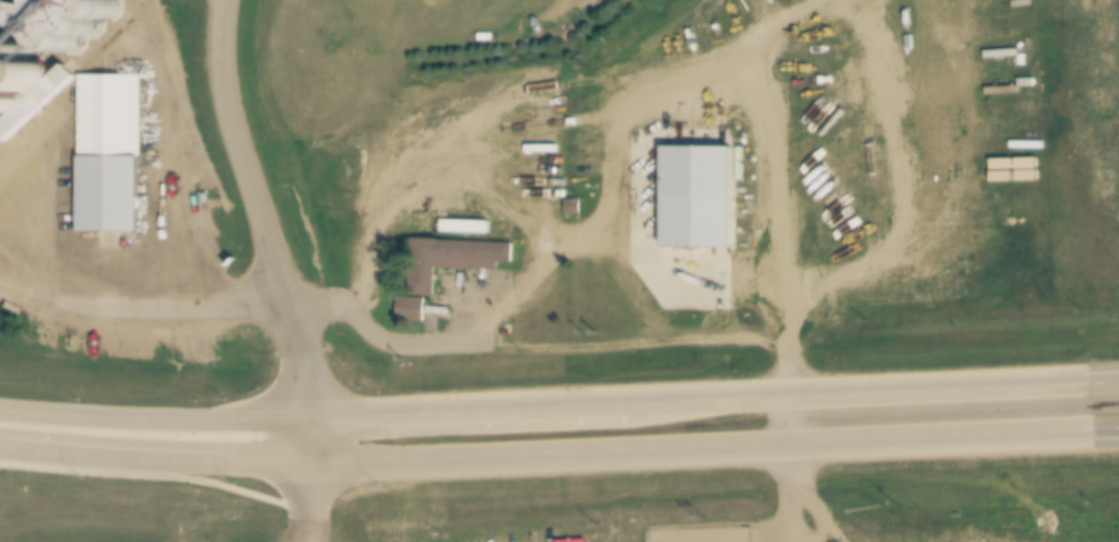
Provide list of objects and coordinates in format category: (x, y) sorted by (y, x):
building: (446, 2)
building: (4, 3)
building: (86, 24)
silo: (86, 24)
building: (298, 55)
building: (22, 76)
silo: (22, 76)
building: (1, 104)
building: (38, 110)
building: (355, 131)
building: (113, 157)
building: (700, 203)
building: (573, 207)
road: (266, 231)
building: (454, 267)
building: (801, 284)
road: (128, 310)
building: (416, 317)
road: (1105, 381)
road: (700, 400)
road: (154, 417)
road: (786, 420)
road: (1107, 427)
road: (703, 446)
road: (154, 459)
road: (787, 492)
road: (309, 502)
power substation: (708, 534)

